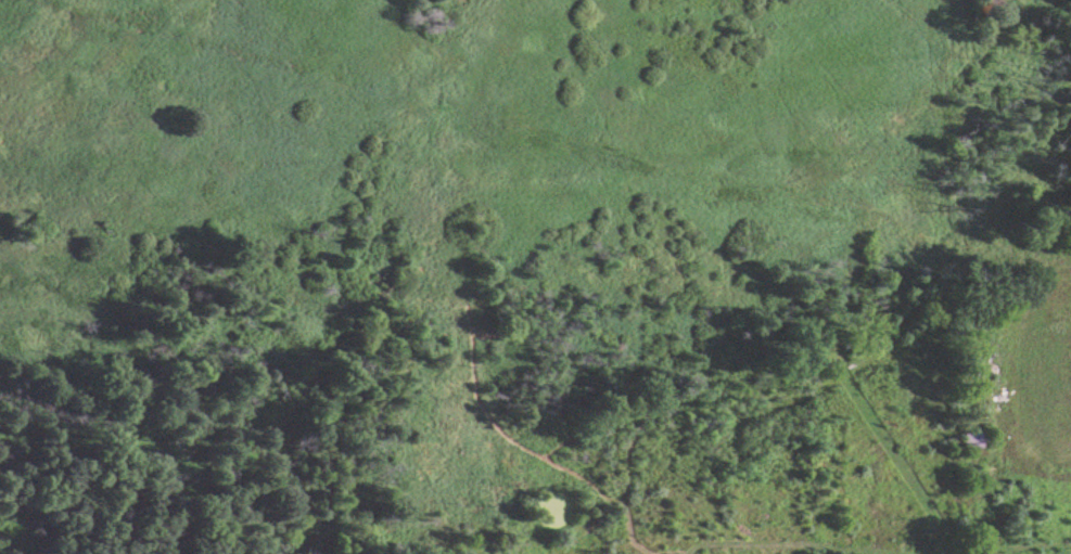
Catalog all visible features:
building: (974, 439)

